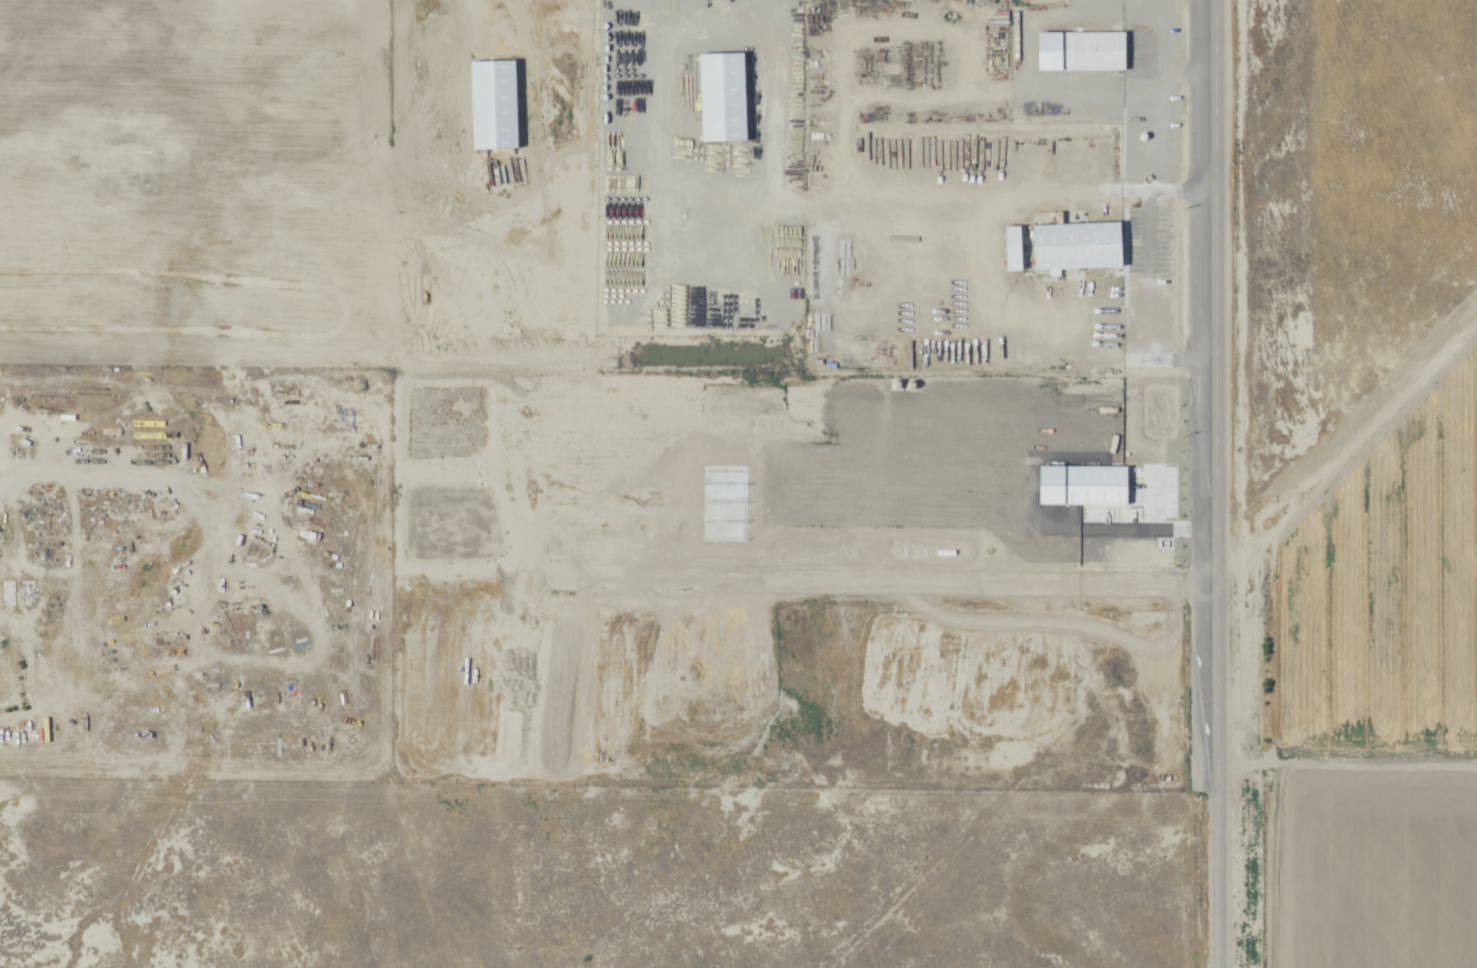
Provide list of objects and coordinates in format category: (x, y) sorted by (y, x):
road: (1148, 275)
road: (1215, 483)
road: (1177, 496)
crop: (1346, 674)

